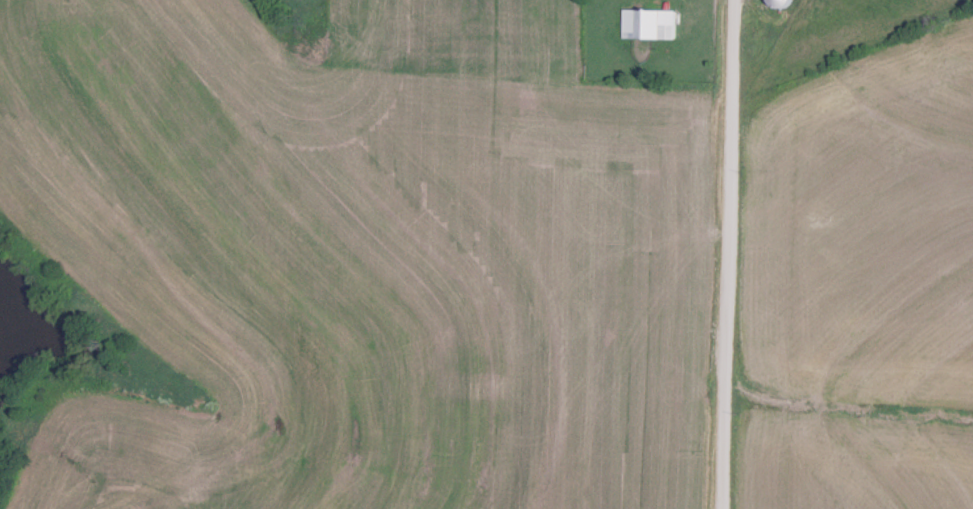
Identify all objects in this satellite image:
building: (776, 4)
building: (647, 25)
road: (725, 254)

